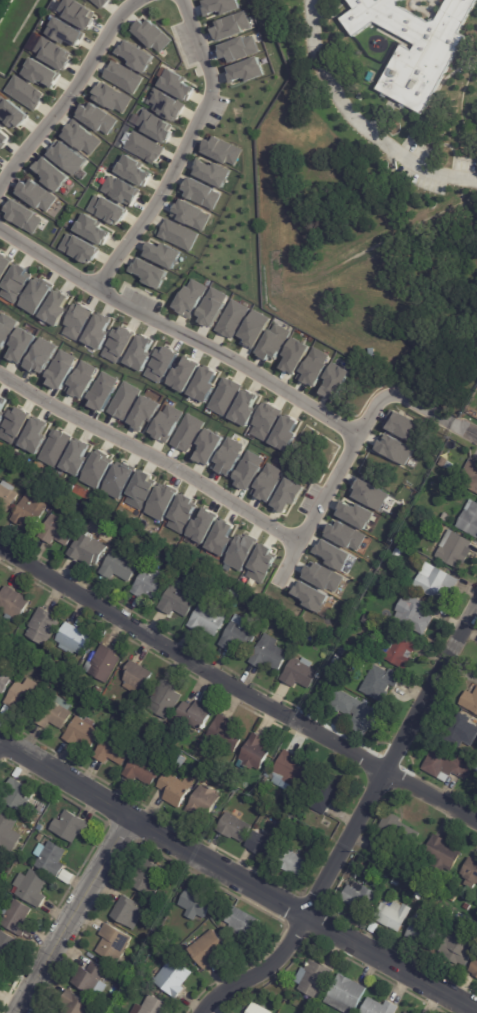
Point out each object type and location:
building: (100, 3)
building: (218, 6)
building: (76, 13)
building: (231, 26)
building: (66, 32)
building: (152, 36)
building: (238, 49)
building: (53, 53)
building: (135, 56)
building: (416, 68)
building: (245, 71)
building: (42, 73)
building: (123, 77)
building: (176, 85)
building: (25, 92)
road: (68, 93)
building: (112, 98)
building: (164, 105)
building: (11, 113)
building: (96, 118)
road: (359, 121)
building: (152, 125)
building: (4, 136)
building: (81, 138)
building: (143, 147)
road: (182, 150)
building: (222, 151)
building: (67, 157)
building: (134, 171)
building: (210, 173)
building: (51, 174)
building: (120, 190)
building: (200, 193)
building: (36, 195)
building: (107, 209)
building: (191, 215)
building: (23, 216)
building: (92, 229)
building: (178, 235)
building: (78, 248)
building: (161, 254)
building: (4, 265)
building: (149, 273)
building: (15, 284)
building: (35, 296)
building: (189, 298)
building: (211, 307)
building: (55, 308)
building: (231, 319)
building: (77, 322)
building: (5, 329)
building: (253, 329)
building: (97, 331)
road: (177, 333)
building: (273, 342)
building: (118, 344)
building: (20, 346)
building: (139, 353)
building: (40, 356)
building: (293, 356)
building: (161, 364)
building: (313, 367)
building: (60, 369)
building: (183, 374)
building: (81, 380)
building: (333, 381)
building: (203, 384)
building: (102, 391)
building: (224, 397)
building: (121, 399)
building: (2, 405)
building: (244, 408)
building: (143, 412)
building: (265, 422)
building: (166, 423)
building: (399, 424)
building: (13, 425)
building: (418, 428)
road: (464, 430)
building: (187, 433)
building: (284, 434)
building: (33, 436)
building: (207, 447)
building: (54, 448)
building: (392, 448)
road: (345, 454)
road: (149, 455)
building: (228, 456)
building: (75, 457)
building: (448, 463)
building: (96, 470)
building: (247, 471)
building: (472, 475)
building: (117, 481)
building: (267, 483)
building: (139, 489)
building: (368, 494)
building: (287, 495)
building: (7, 500)
building: (52, 502)
building: (159, 503)
building: (31, 511)
building: (180, 514)
building: (354, 514)
building: (446, 516)
building: (470, 520)
building: (200, 527)
building: (59, 531)
building: (344, 535)
building: (219, 538)
building: (89, 549)
building: (456, 549)
building: (239, 553)
building: (334, 556)
building: (406, 557)
building: (260, 564)
building: (120, 566)
building: (321, 576)
building: (207, 579)
building: (436, 582)
building: (150, 584)
building: (381, 585)
building: (0, 586)
building: (237, 594)
building: (309, 596)
building: (180, 599)
building: (14, 604)
building: (236, 606)
building: (415, 614)
building: (210, 618)
building: (369, 620)
building: (44, 627)
building: (240, 635)
building: (310, 637)
building: (74, 640)
building: (400, 651)
building: (270, 654)
building: (103, 662)
building: (49, 663)
building: (336, 665)
building: (301, 673)
building: (136, 677)
building: (5, 680)
building: (382, 683)
road: (237, 685)
building: (322, 685)
building: (98, 691)
building: (27, 697)
building: (166, 700)
building: (470, 701)
building: (128, 710)
building: (356, 711)
building: (196, 713)
building: (54, 715)
building: (83, 732)
building: (226, 733)
building: (463, 733)
building: (114, 749)
building: (256, 752)
building: (181, 761)
building: (448, 764)
building: (144, 769)
building: (293, 769)
road: (65, 778)
building: (177, 789)
building: (330, 794)
building: (20, 797)
building: (209, 798)
road: (356, 822)
building: (69, 825)
building: (7, 828)
building: (237, 828)
building: (400, 831)
building: (41, 837)
building: (322, 838)
building: (264, 846)
building: (0, 848)
building: (377, 850)
building: (444, 854)
building: (51, 858)
building: (293, 863)
building: (471, 872)
building: (389, 875)
building: (67, 876)
building: (149, 877)
building: (371, 882)
building: (397, 883)
building: (33, 887)
building: (382, 887)
building: (420, 895)
building: (362, 899)
building: (454, 899)
building: (471, 899)
building: (197, 903)
building: (129, 912)
building: (159, 912)
road: (72, 915)
building: (19, 916)
road: (302, 916)
building: (395, 918)
building: (462, 919)
building: (245, 921)
building: (375, 928)
building: (425, 936)
building: (113, 943)
building: (8, 946)
building: (208, 948)
building: (461, 949)
building: (475, 968)
building: (174, 977)
building: (314, 978)
building: (91, 979)
building: (128, 982)
building: (349, 991)
building: (77, 1003)
building: (157, 1006)
building: (380, 1006)
building: (258, 1009)
building: (407, 1012)

